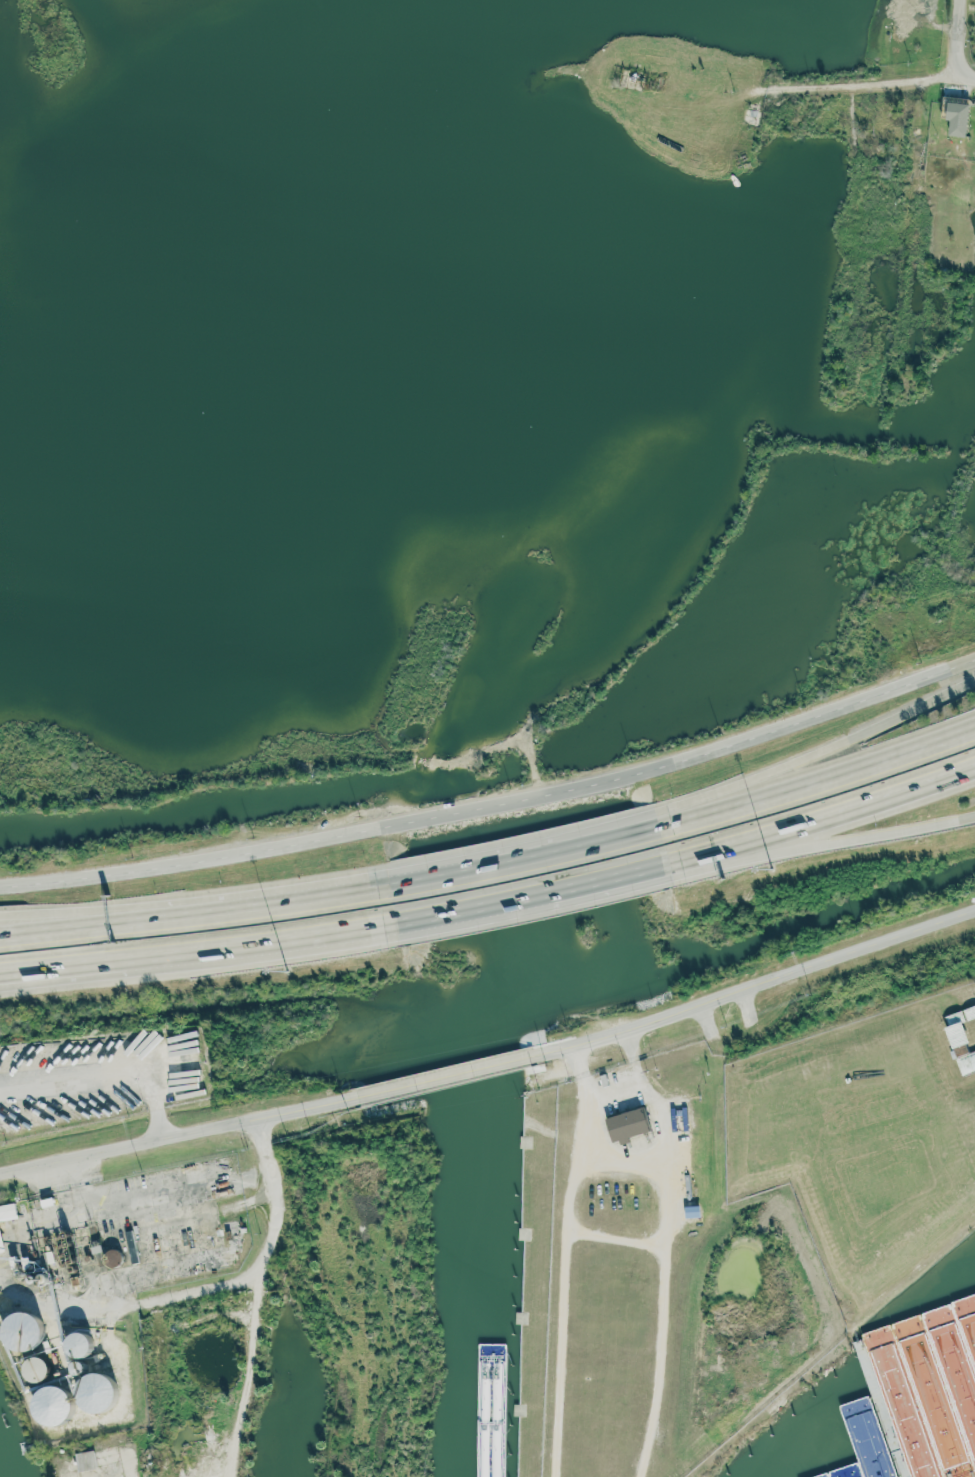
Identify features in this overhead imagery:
road: (963, 37)
road: (828, 91)
building: (953, 119)
road: (905, 211)
road: (816, 756)
road: (816, 781)
road: (495, 807)
road: (821, 818)
road: (820, 844)
road: (522, 858)
road: (530, 896)
road: (268, 902)
road: (74, 920)
road: (74, 926)
road: (197, 950)
road: (84, 971)
road: (761, 988)
building: (960, 1051)
road: (673, 1054)
road: (457, 1073)
road: (103, 1078)
building: (624, 1124)
road: (185, 1137)
building: (7, 1211)
building: (689, 1211)
road: (618, 1237)
building: (0, 1248)
road: (669, 1253)
road: (565, 1260)
road: (215, 1303)
road: (337, 1339)
road: (156, 1392)
building: (83, 1460)

